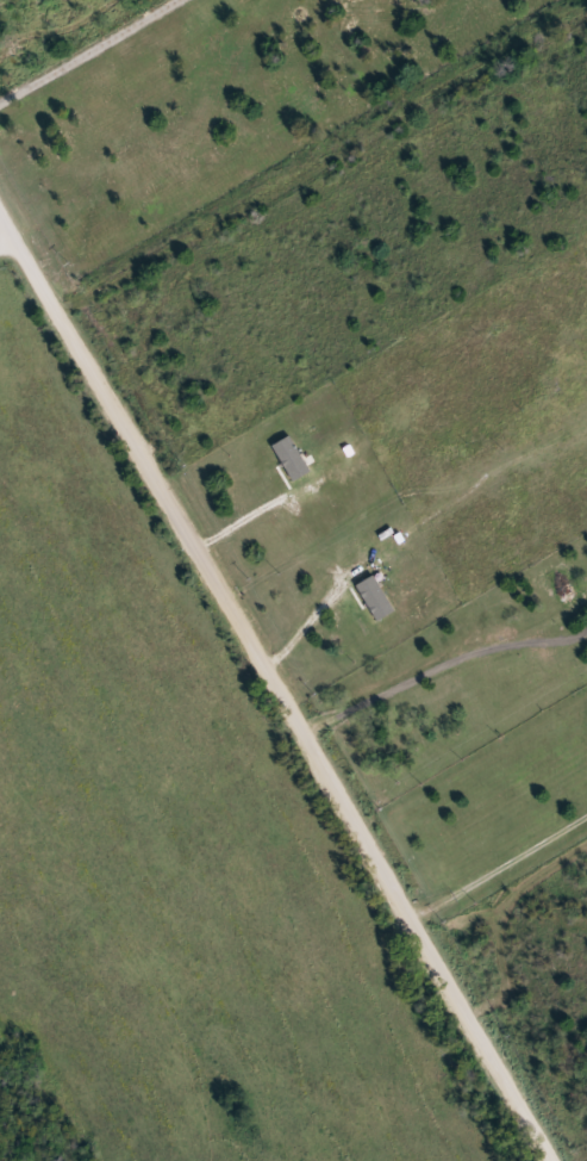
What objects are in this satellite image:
road: (321, 160)
road: (5, 226)
road: (5, 240)
building: (299, 459)
building: (382, 598)
road: (283, 697)

